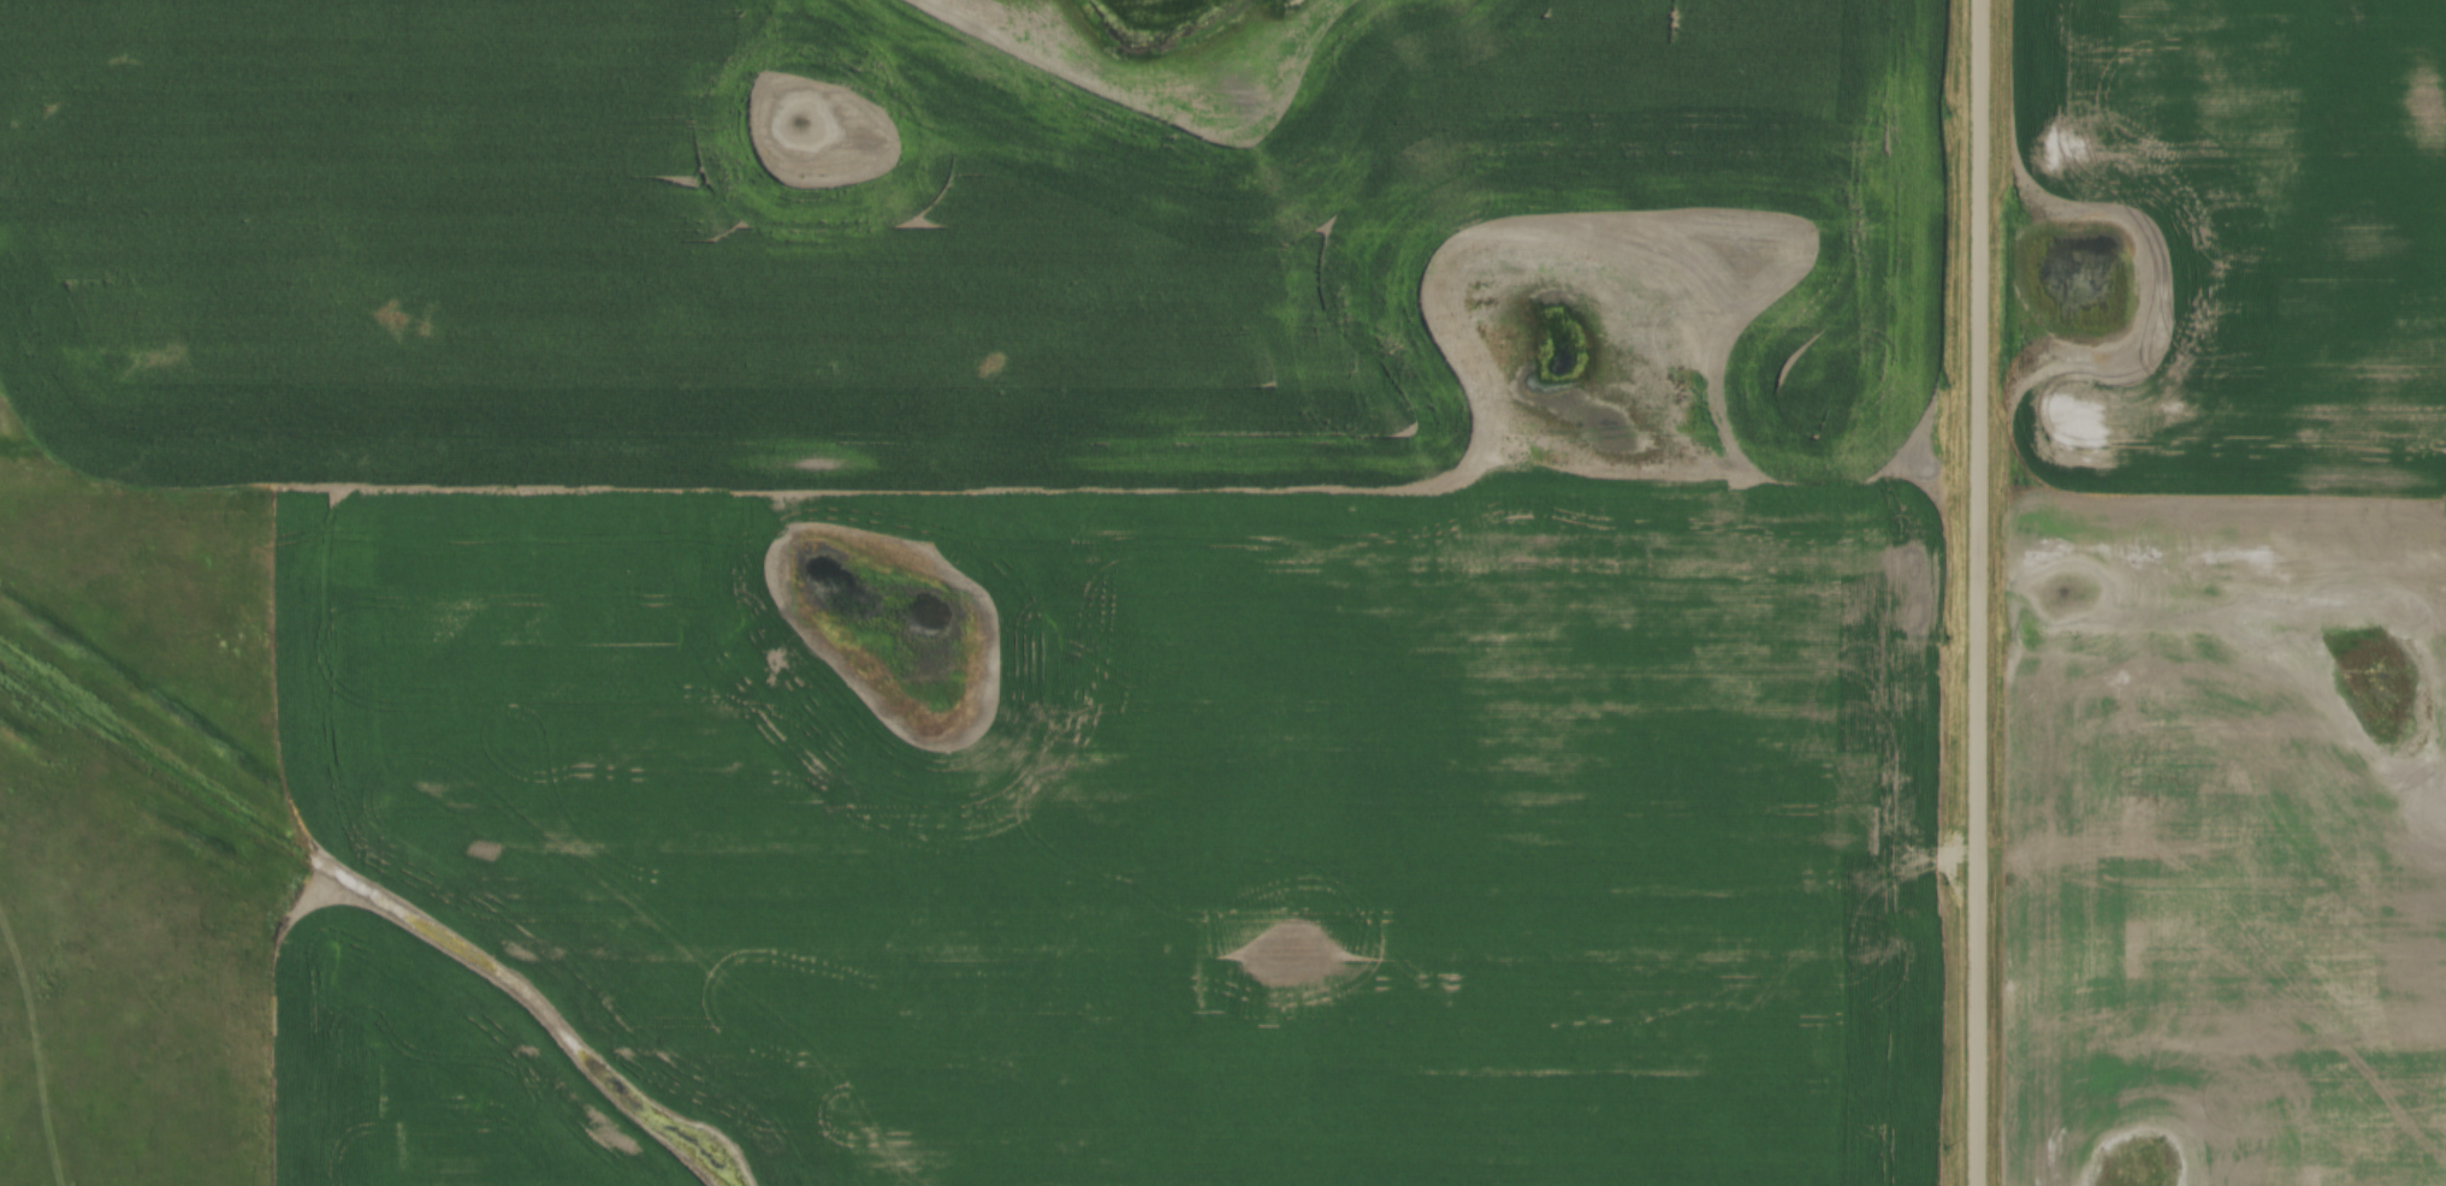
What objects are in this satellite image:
road: (1979, 593)

